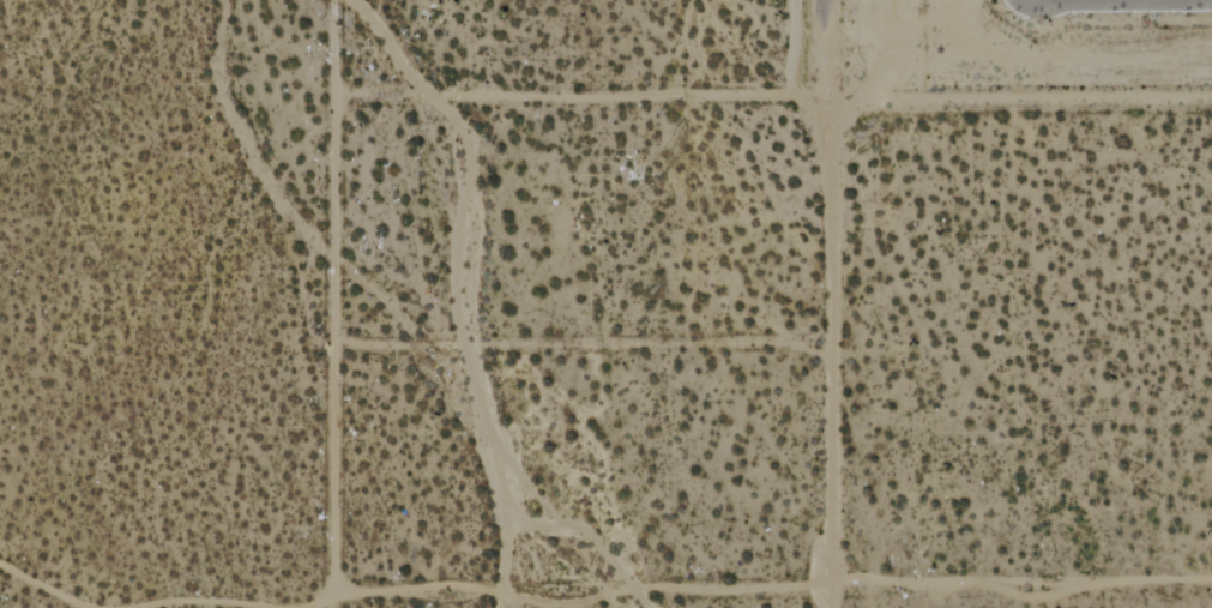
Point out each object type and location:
road: (827, 52)
road: (1020, 101)
road: (831, 355)
road: (1023, 580)

